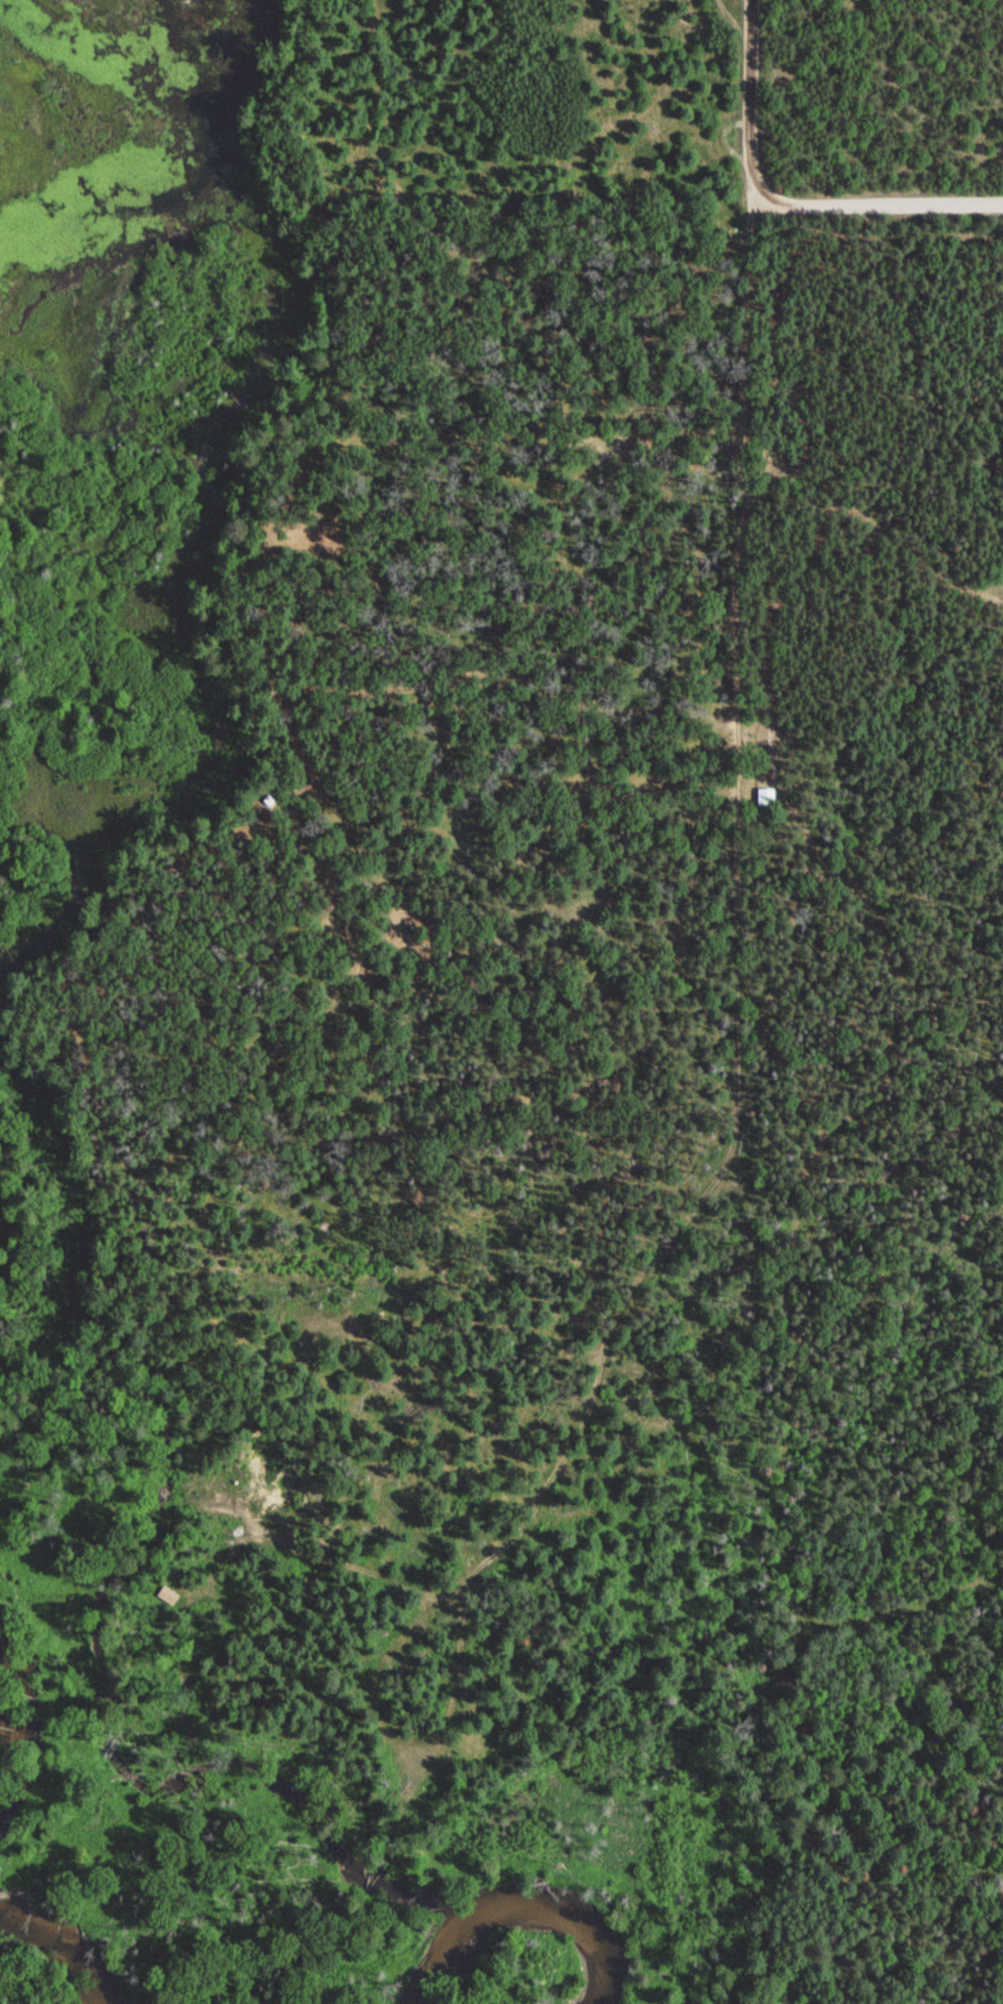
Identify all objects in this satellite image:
road: (751, 84)
road: (877, 204)
road: (480, 437)
road: (871, 520)
building: (766, 796)
road: (724, 930)
road: (306, 1552)
river: (5, 1712)
river: (526, 1922)
river: (63, 1948)

